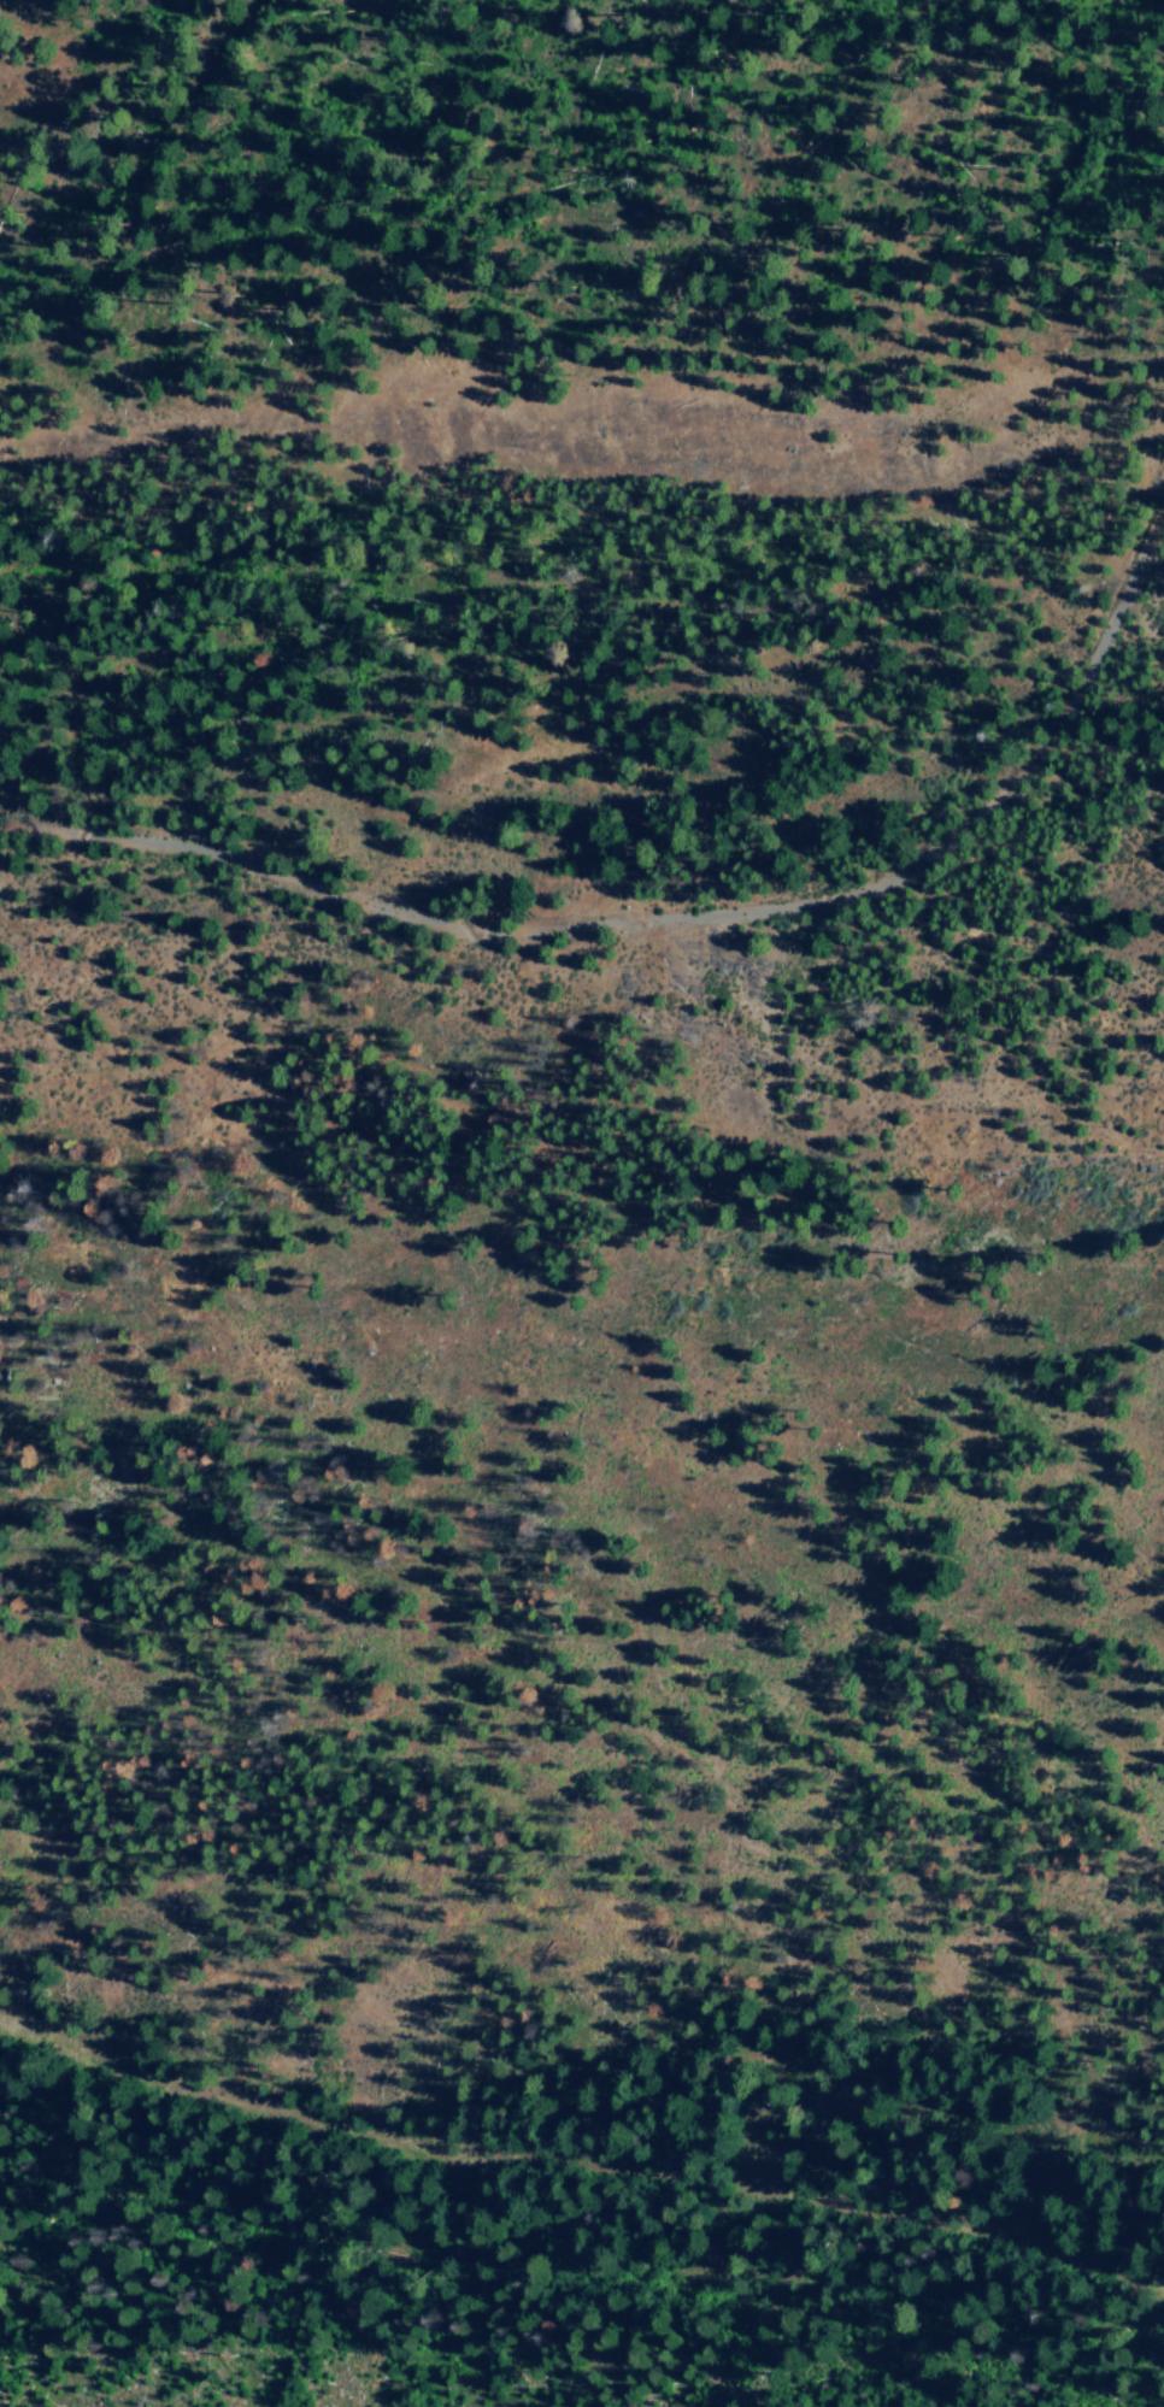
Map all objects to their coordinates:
road: (680, 919)
road: (576, 2162)

